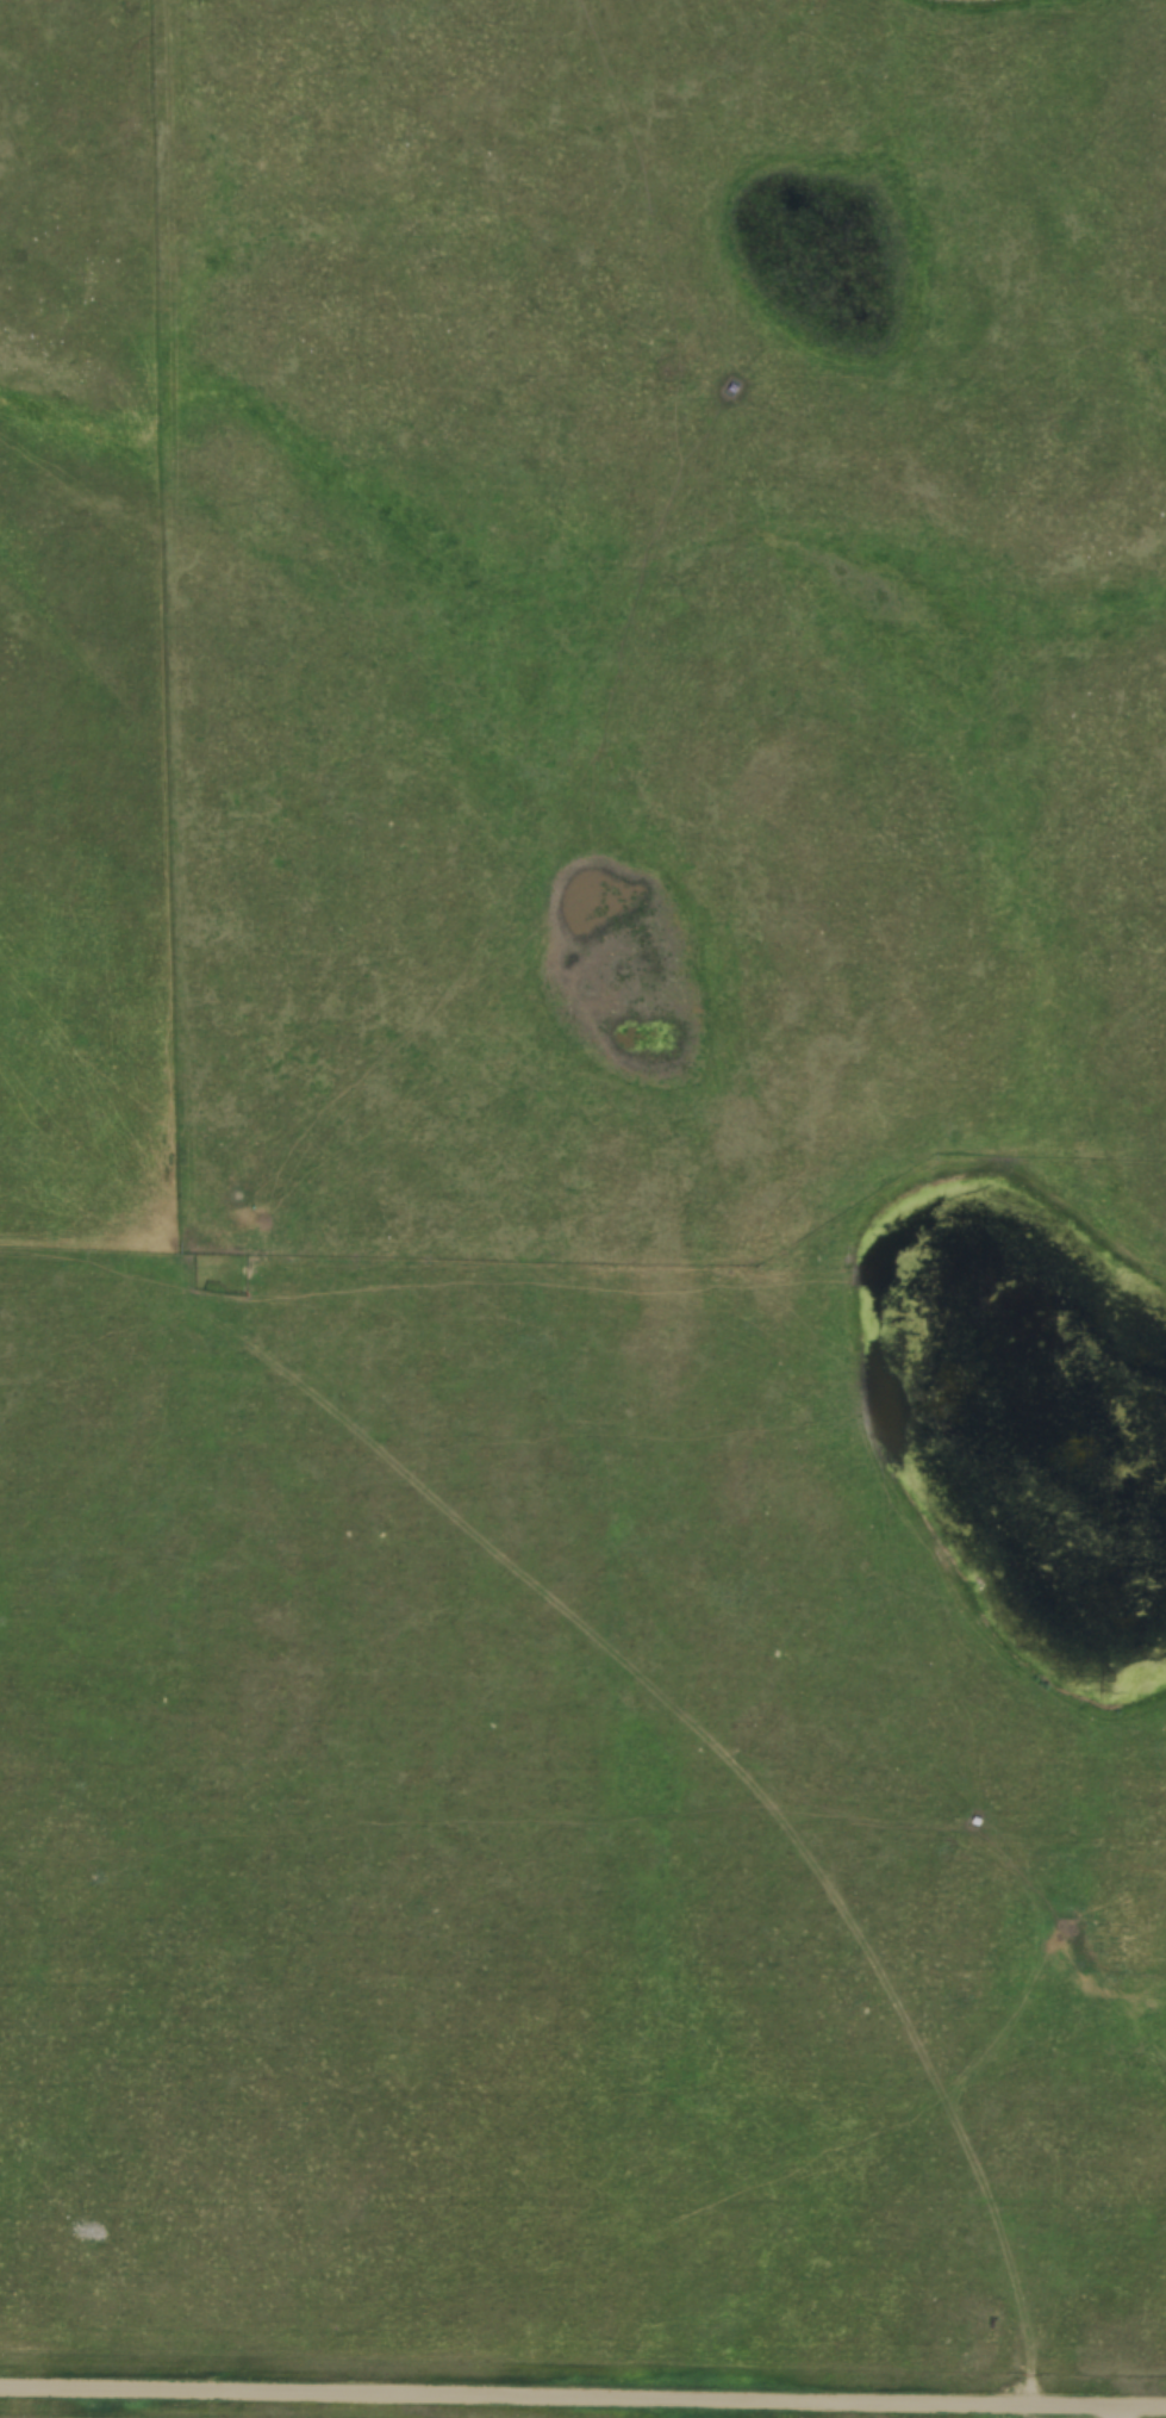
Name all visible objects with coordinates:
road: (582, 2394)

